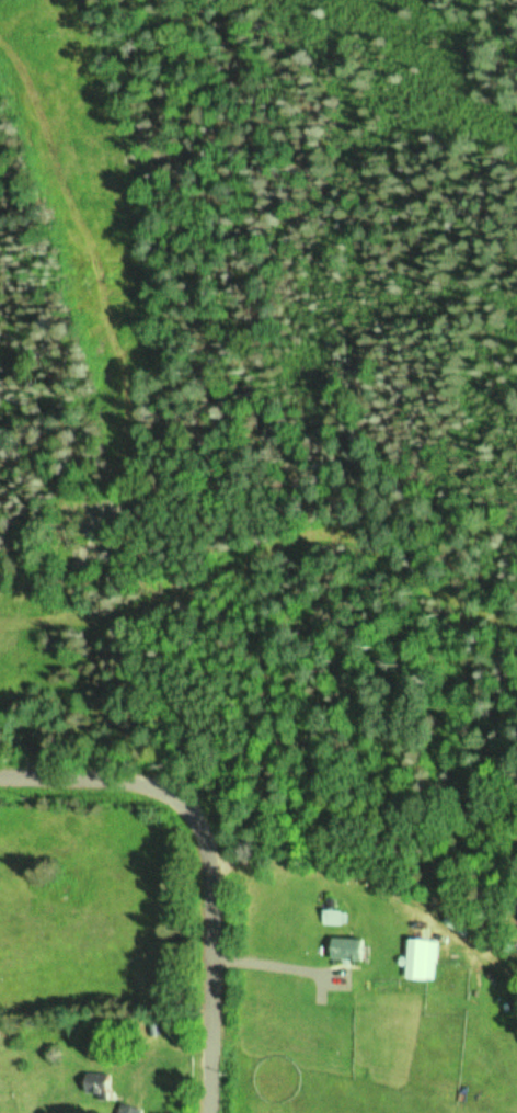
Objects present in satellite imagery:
road: (255, 557)
road: (212, 859)
building: (351, 947)
building: (423, 957)
building: (97, 1083)

